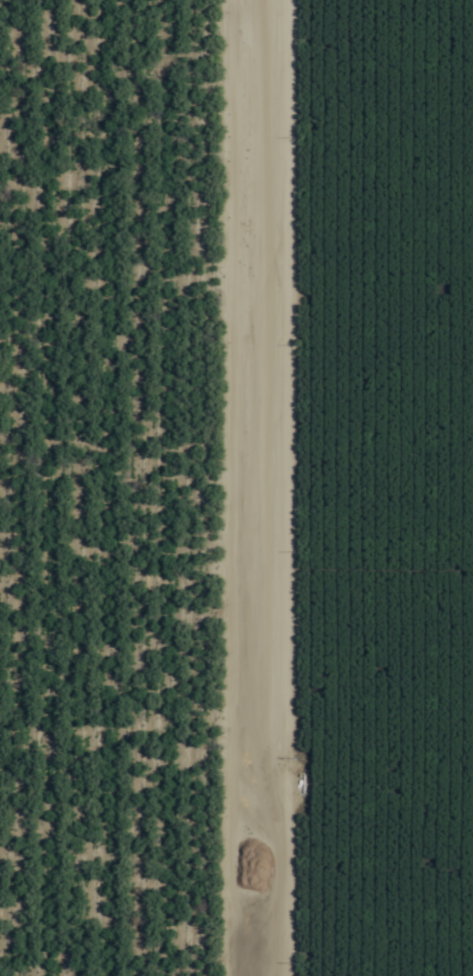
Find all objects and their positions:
road: (254, 488)

